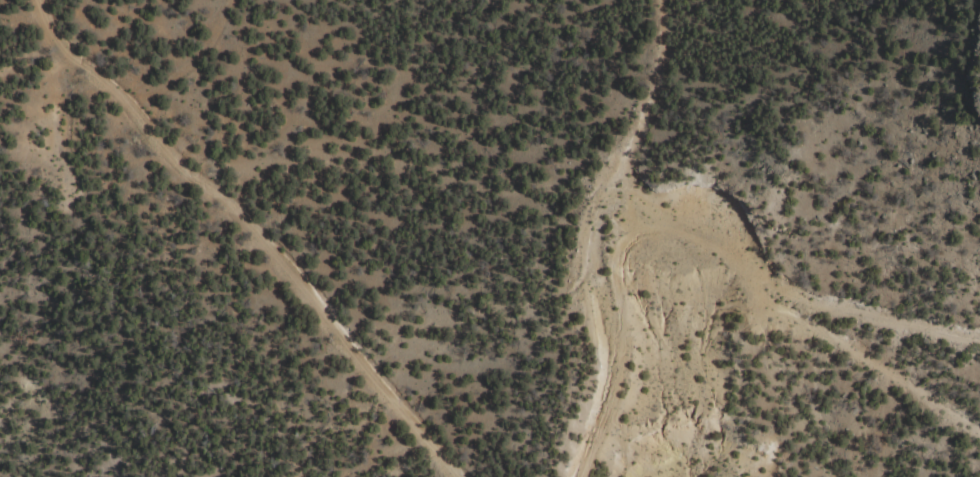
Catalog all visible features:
road: (452, 428)

